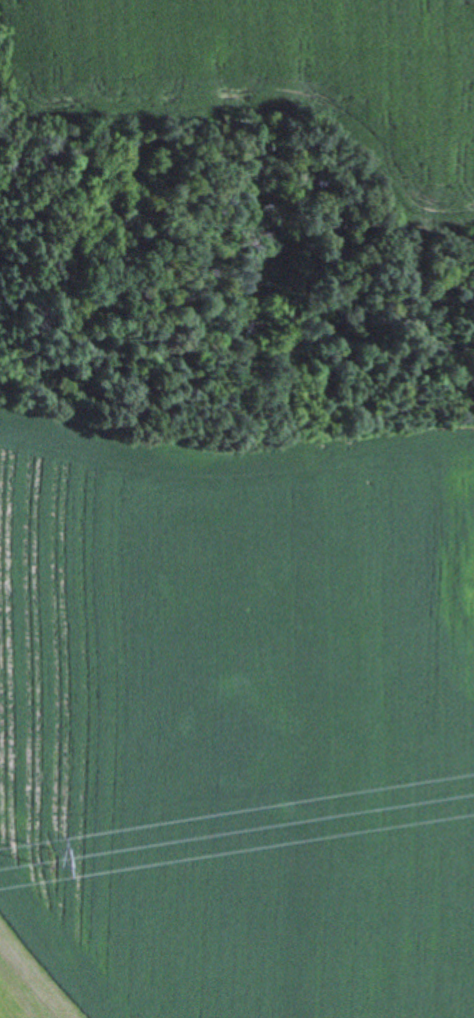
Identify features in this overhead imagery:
power tower: (57, 859)

